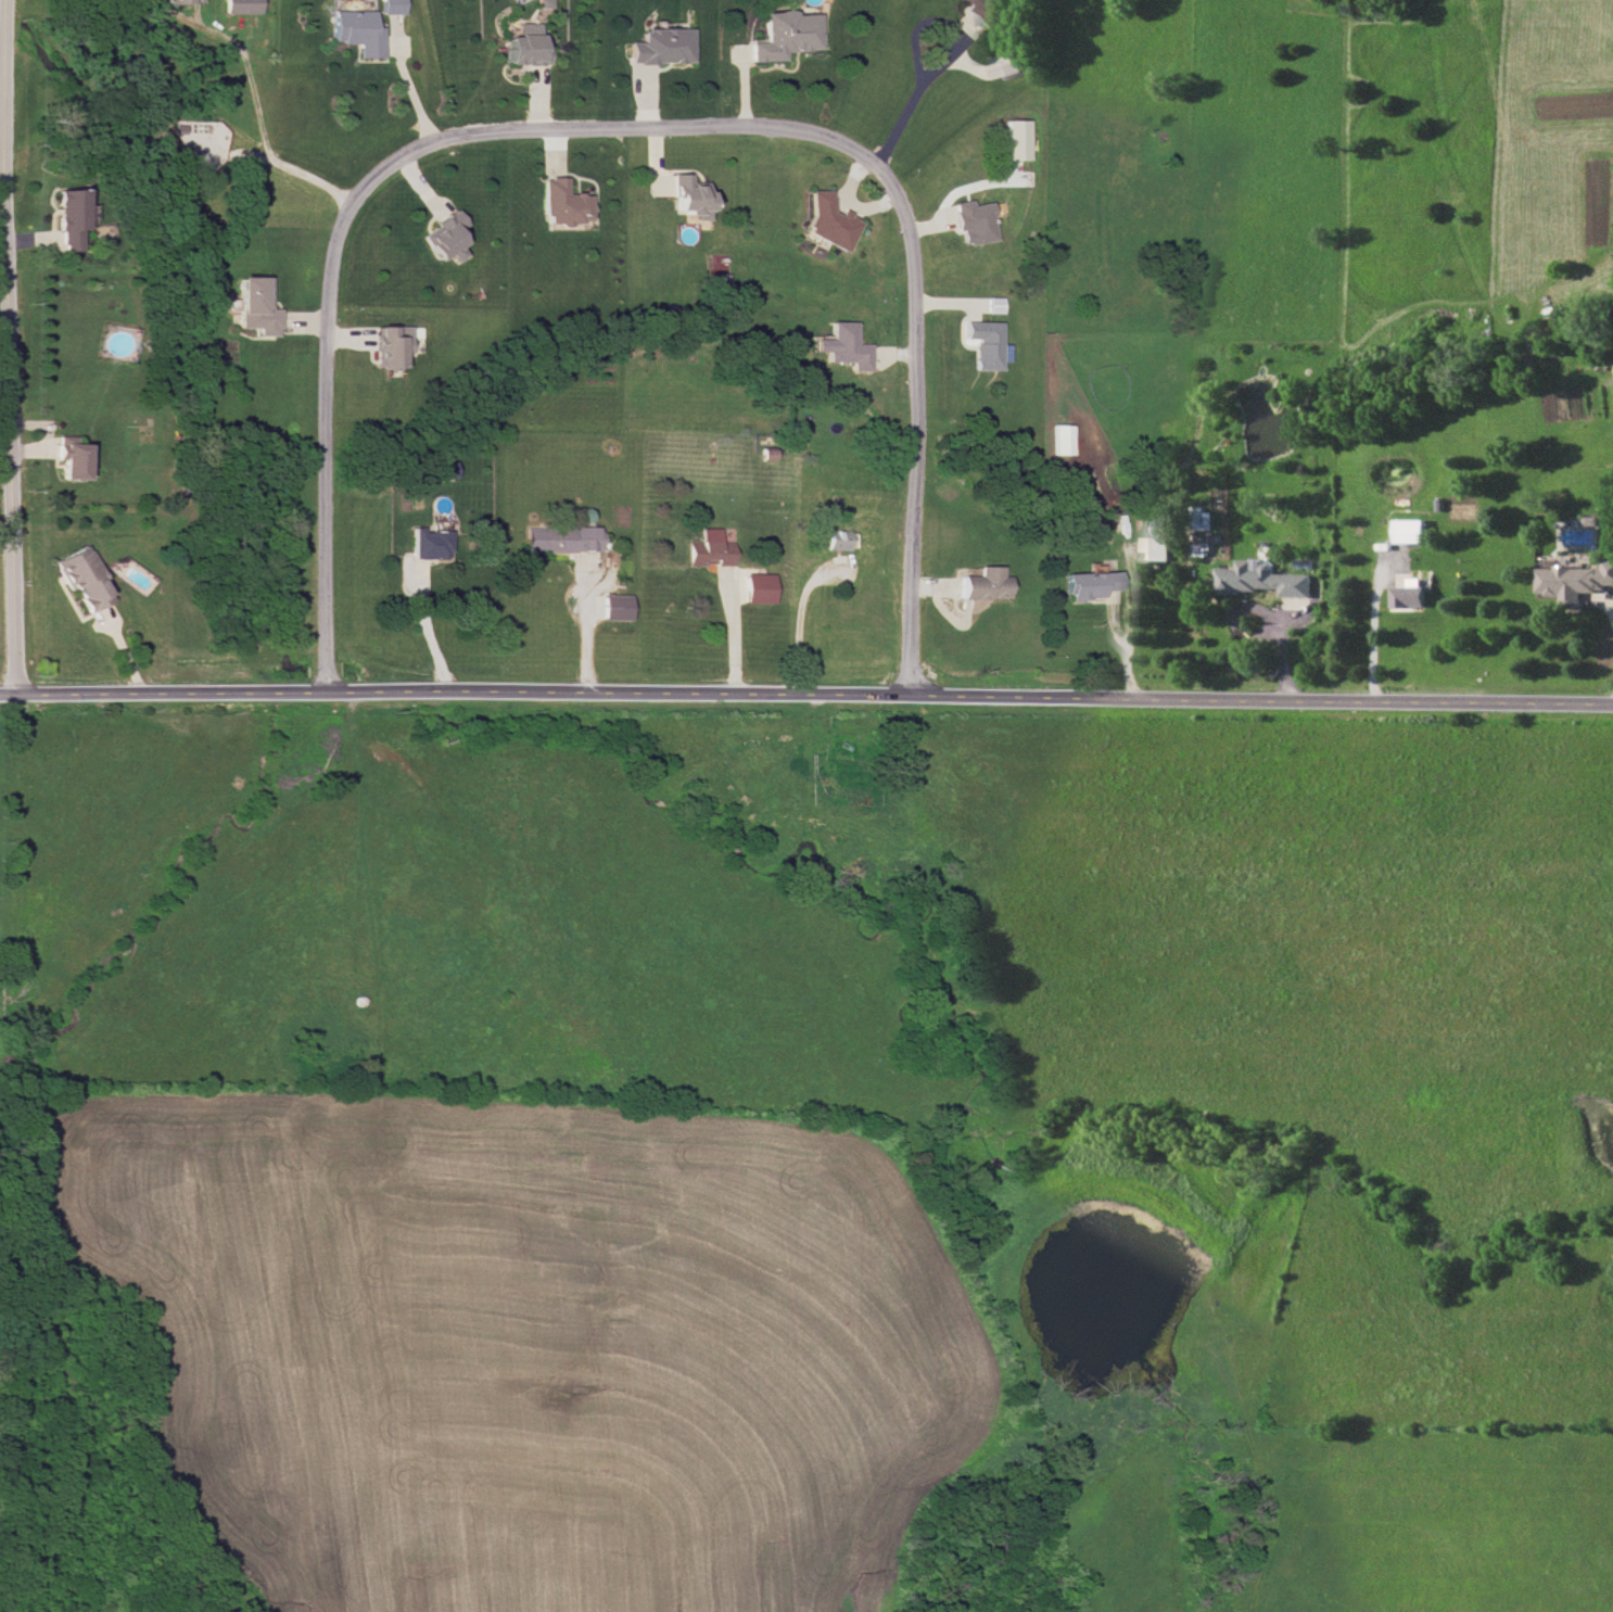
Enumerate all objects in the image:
building: (174, 1)
building: (542, 3)
building: (240, 7)
building: (389, 7)
building: (978, 11)
building: (354, 31)
building: (783, 35)
building: (523, 47)
building: (658, 47)
building: (1006, 64)
road: (409, 90)
road: (251, 94)
road: (910, 98)
road: (625, 120)
building: (686, 196)
building: (558, 203)
building: (67, 218)
building: (971, 221)
building: (824, 224)
building: (441, 238)
building: (991, 305)
building: (253, 306)
building: (982, 344)
building: (388, 345)
building: (838, 346)
road: (15, 422)
building: (1056, 439)
building: (69, 457)
building: (1206, 518)
building: (1410, 530)
building: (1158, 537)
building: (559, 538)
building: (834, 540)
building: (426, 544)
building: (701, 546)
building: (1201, 549)
building: (81, 577)
building: (1265, 579)
building: (1575, 582)
building: (980, 584)
building: (1084, 585)
building: (755, 587)
building: (1411, 594)
road: (1611, 604)
building: (613, 607)
road: (790, 619)
road: (584, 632)
road: (428, 633)
road: (731, 637)
road: (1129, 645)
road: (1373, 647)
road: (805, 698)

